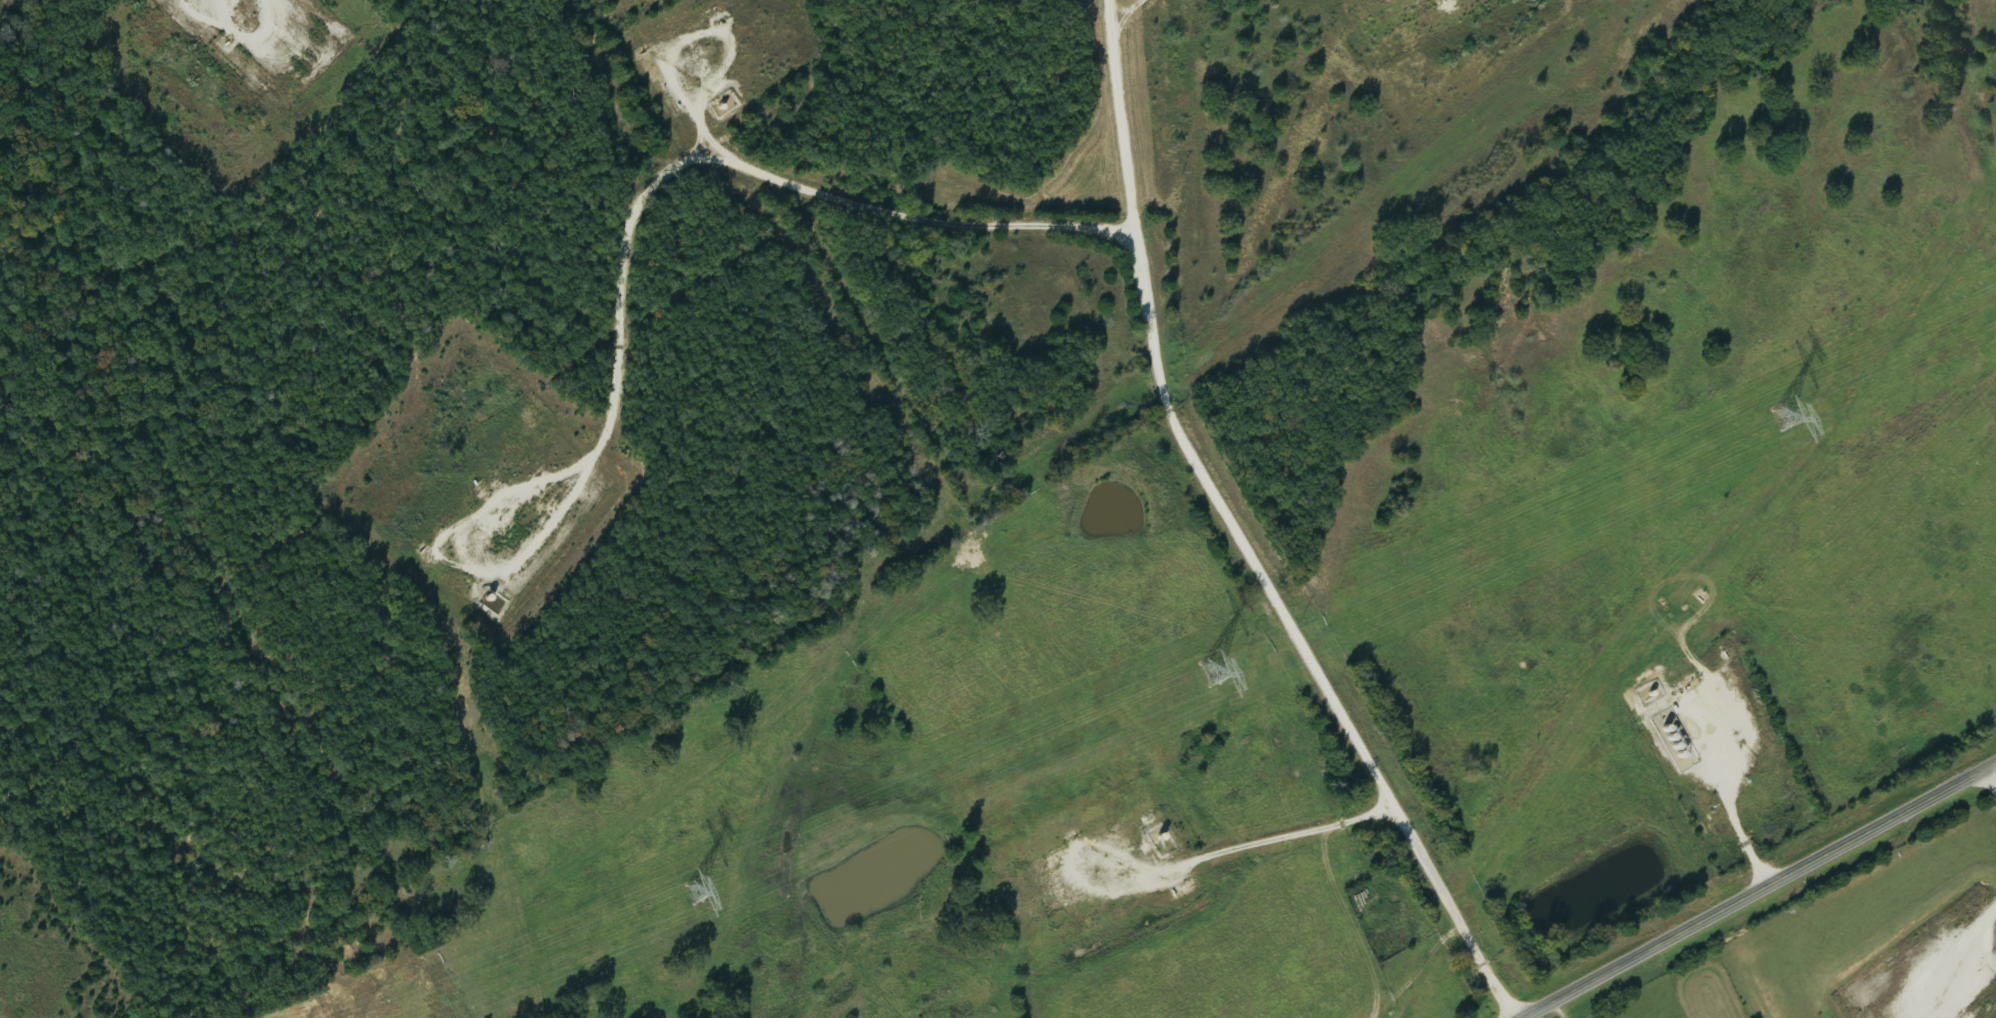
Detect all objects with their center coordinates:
power tower: (1779, 417)
road: (424, 498)
road: (1282, 522)
power tower: (1204, 670)
road: (1733, 751)
road: (194, 816)
road: (1755, 889)
power tower: (689, 895)

